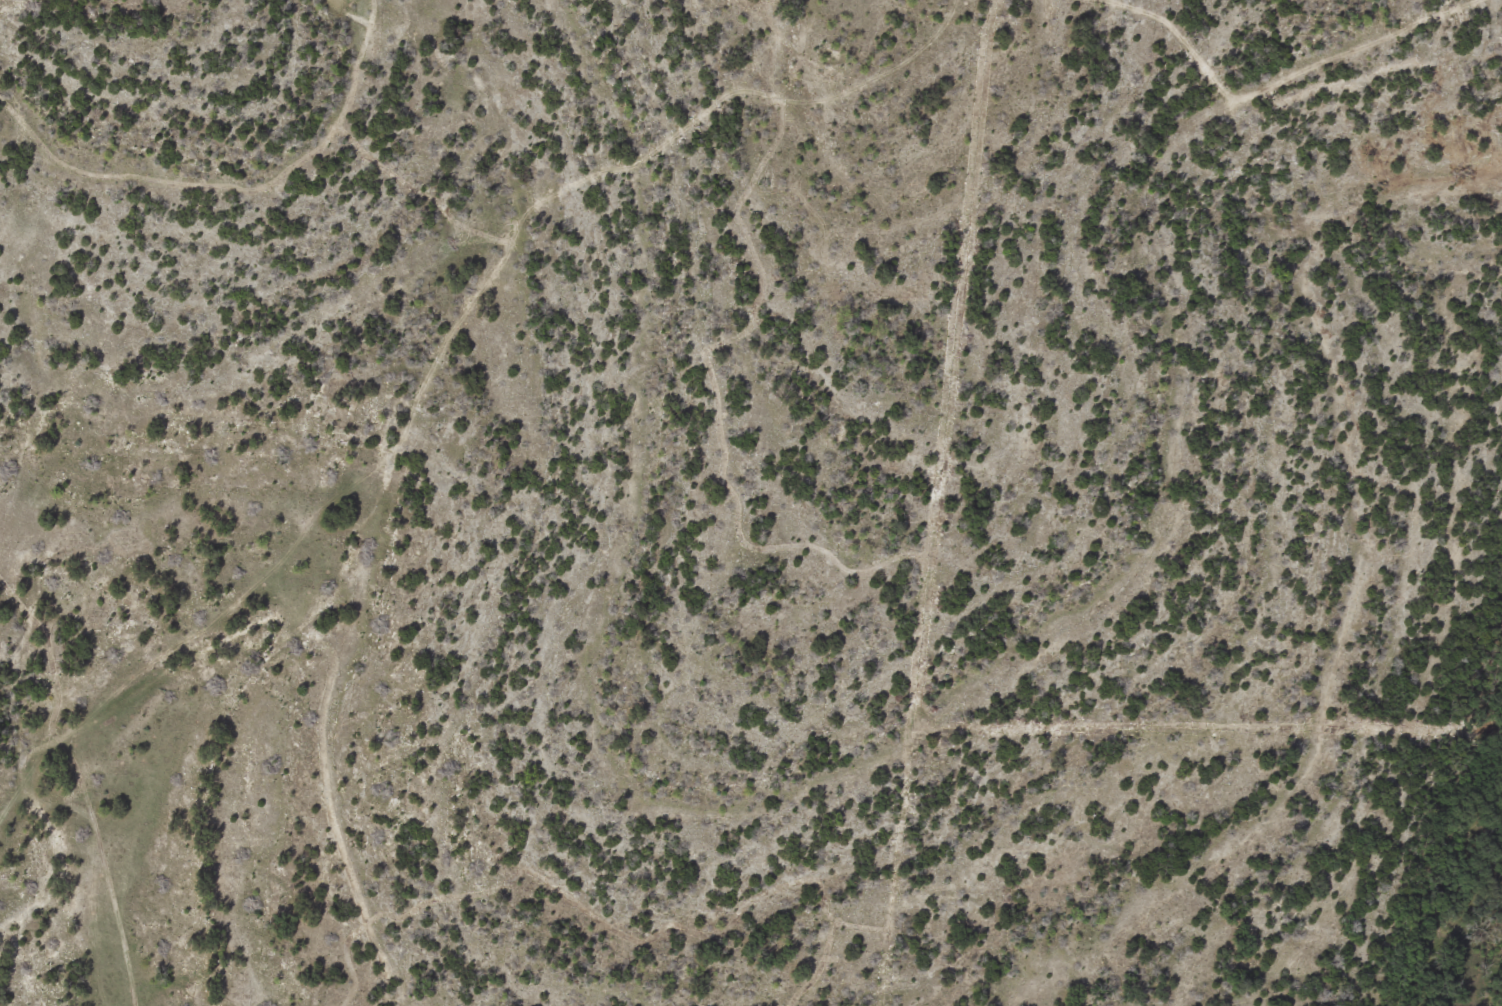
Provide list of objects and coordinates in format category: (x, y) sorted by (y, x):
road: (1245, 80)
road: (450, 306)

